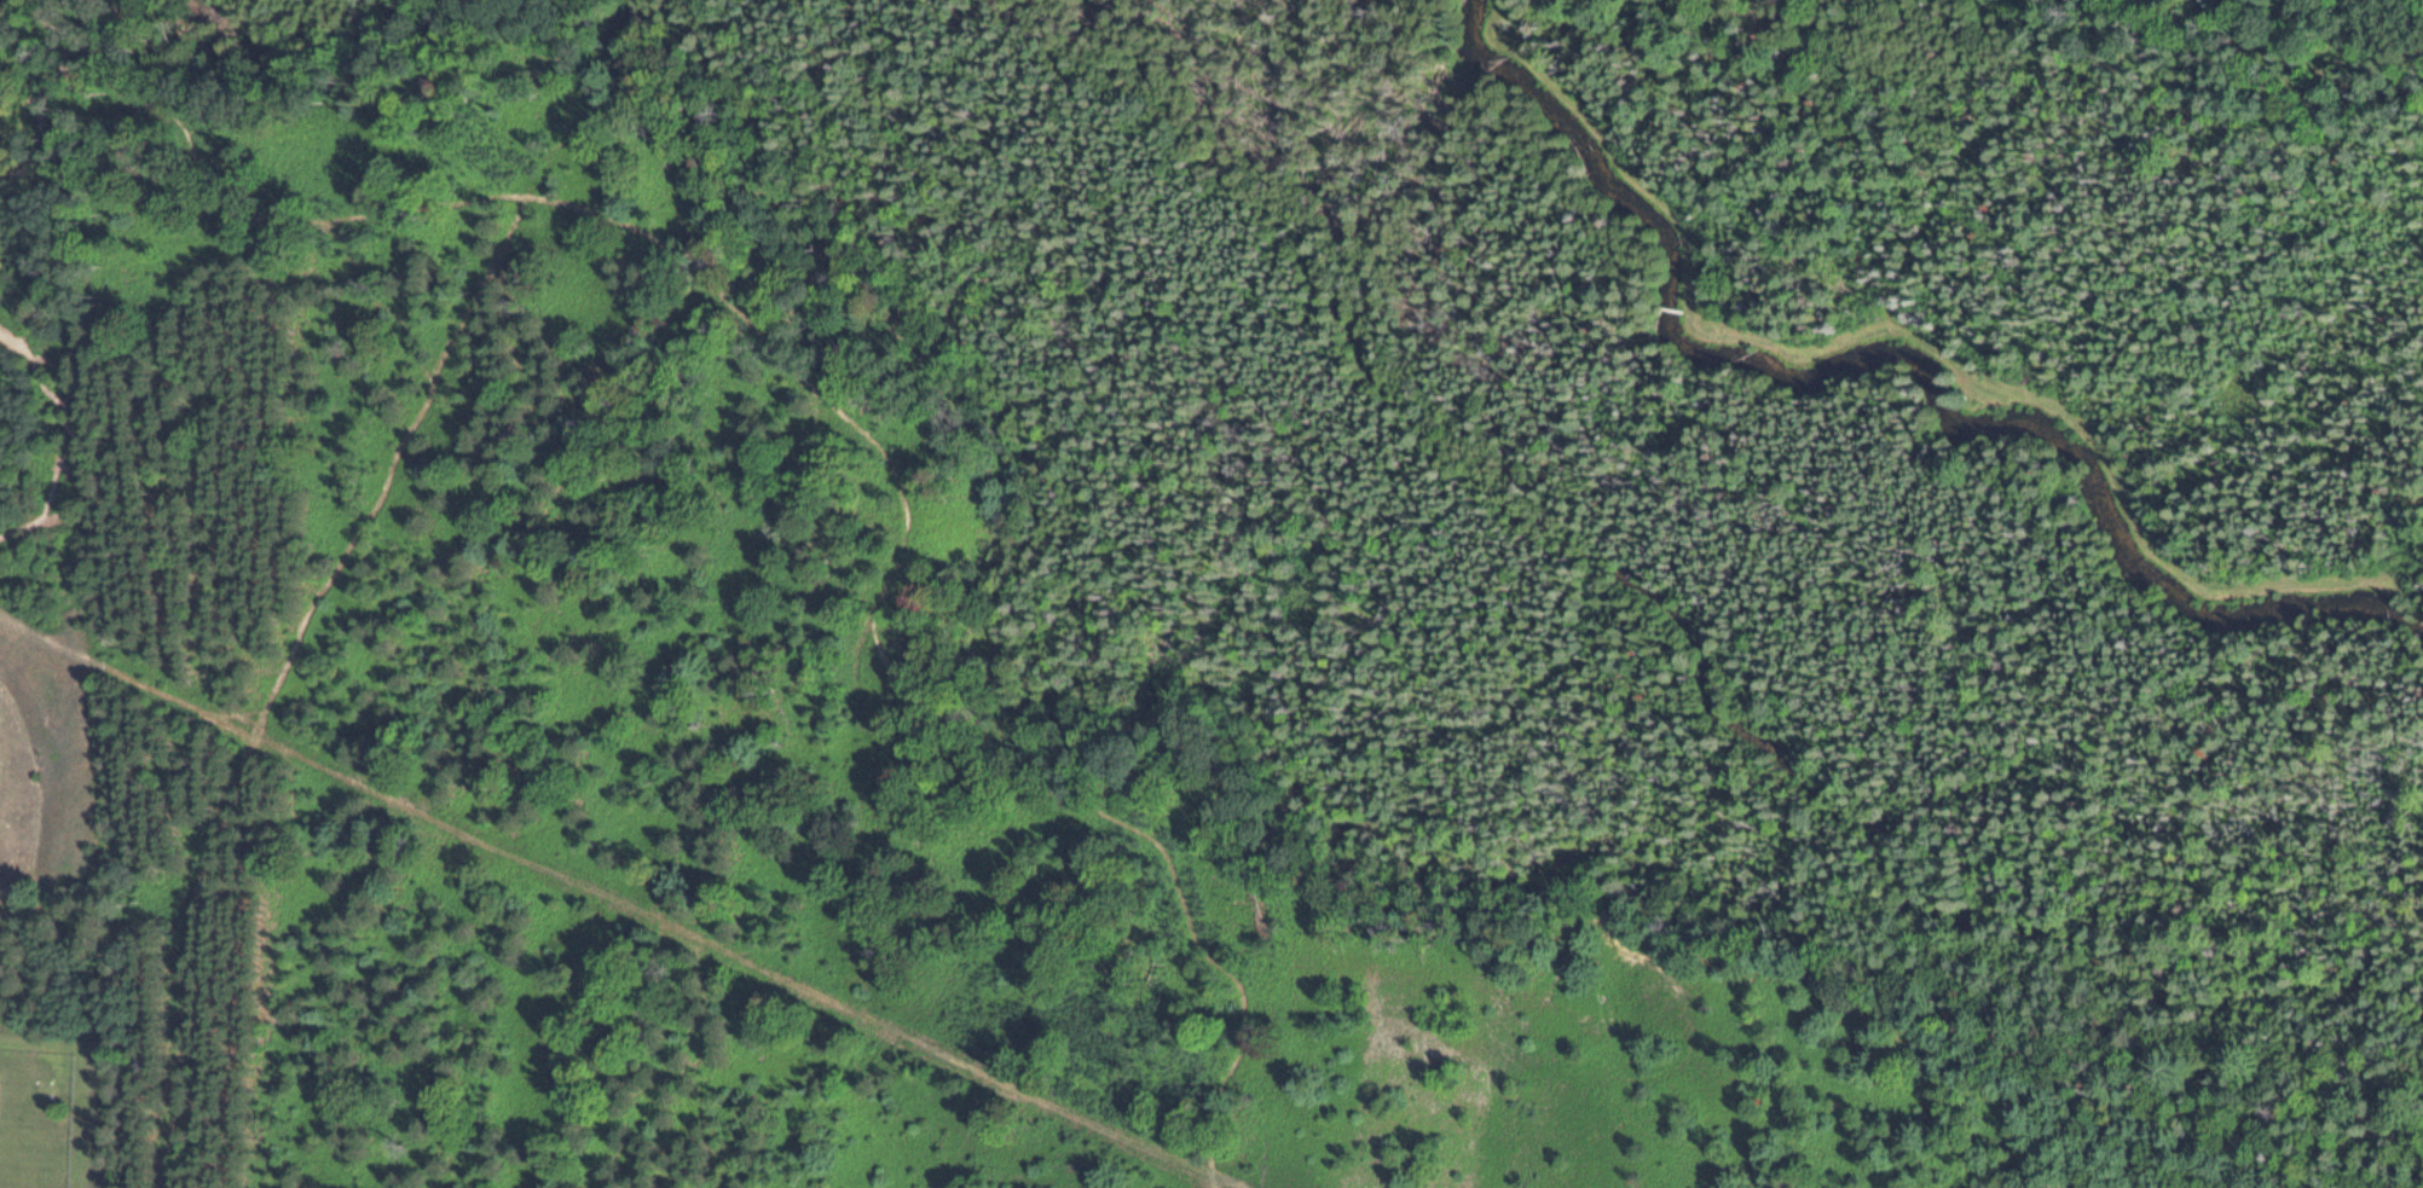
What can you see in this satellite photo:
river: (1893, 350)
road: (875, 546)

